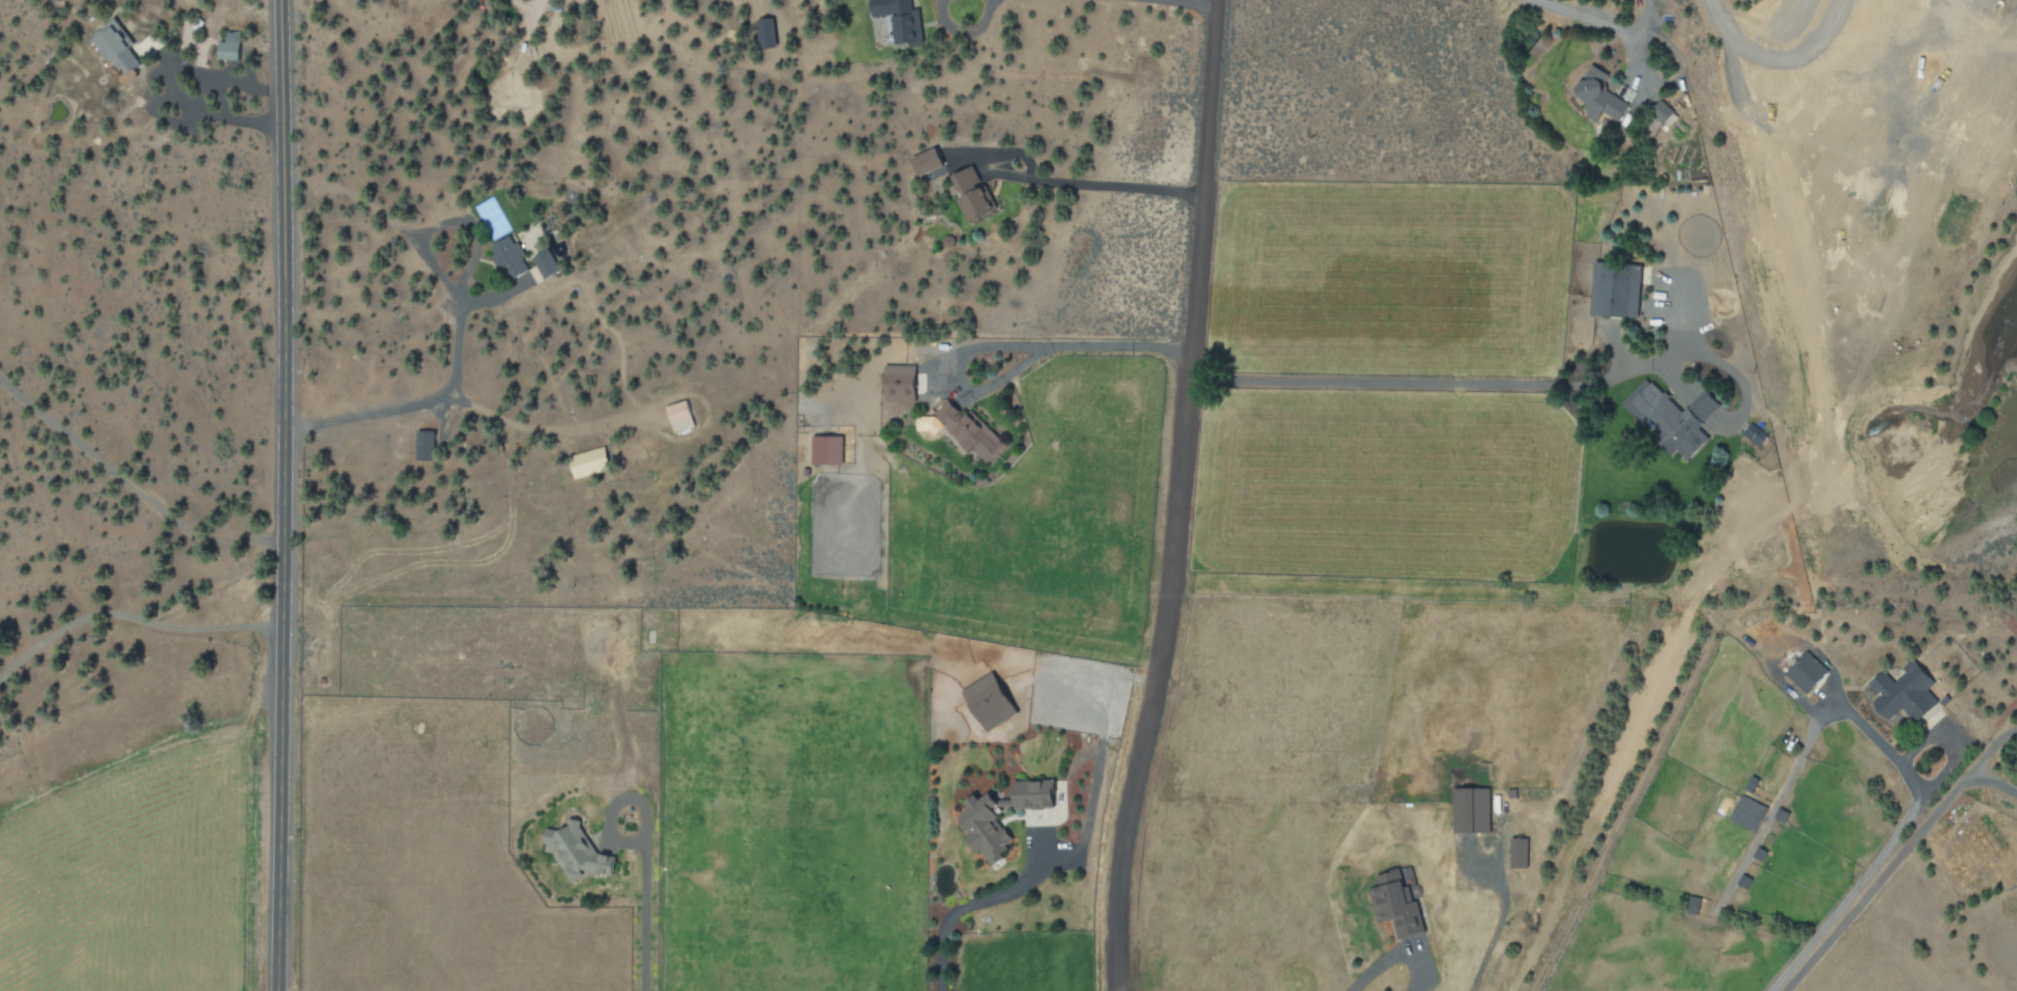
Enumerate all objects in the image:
building: (900, 19)
building: (765, 33)
building: (117, 46)
building: (229, 46)
building: (1600, 96)
building: (1662, 111)
building: (928, 161)
building: (973, 195)
building: (509, 258)
building: (545, 264)
building: (1616, 290)
building: (899, 383)
building: (679, 415)
building: (1670, 417)
building: (970, 431)
building: (1755, 434)
building: (424, 445)
building: (826, 450)
building: (588, 462)
road: (279, 495)
road: (1170, 497)
crop: (1069, 587)
building: (1805, 672)
building: (1905, 692)
building: (990, 700)
building: (1471, 809)
building: (1747, 813)
building: (983, 825)
building: (578, 851)
building: (1517, 852)
crop: (133, 877)
building: (1396, 902)

